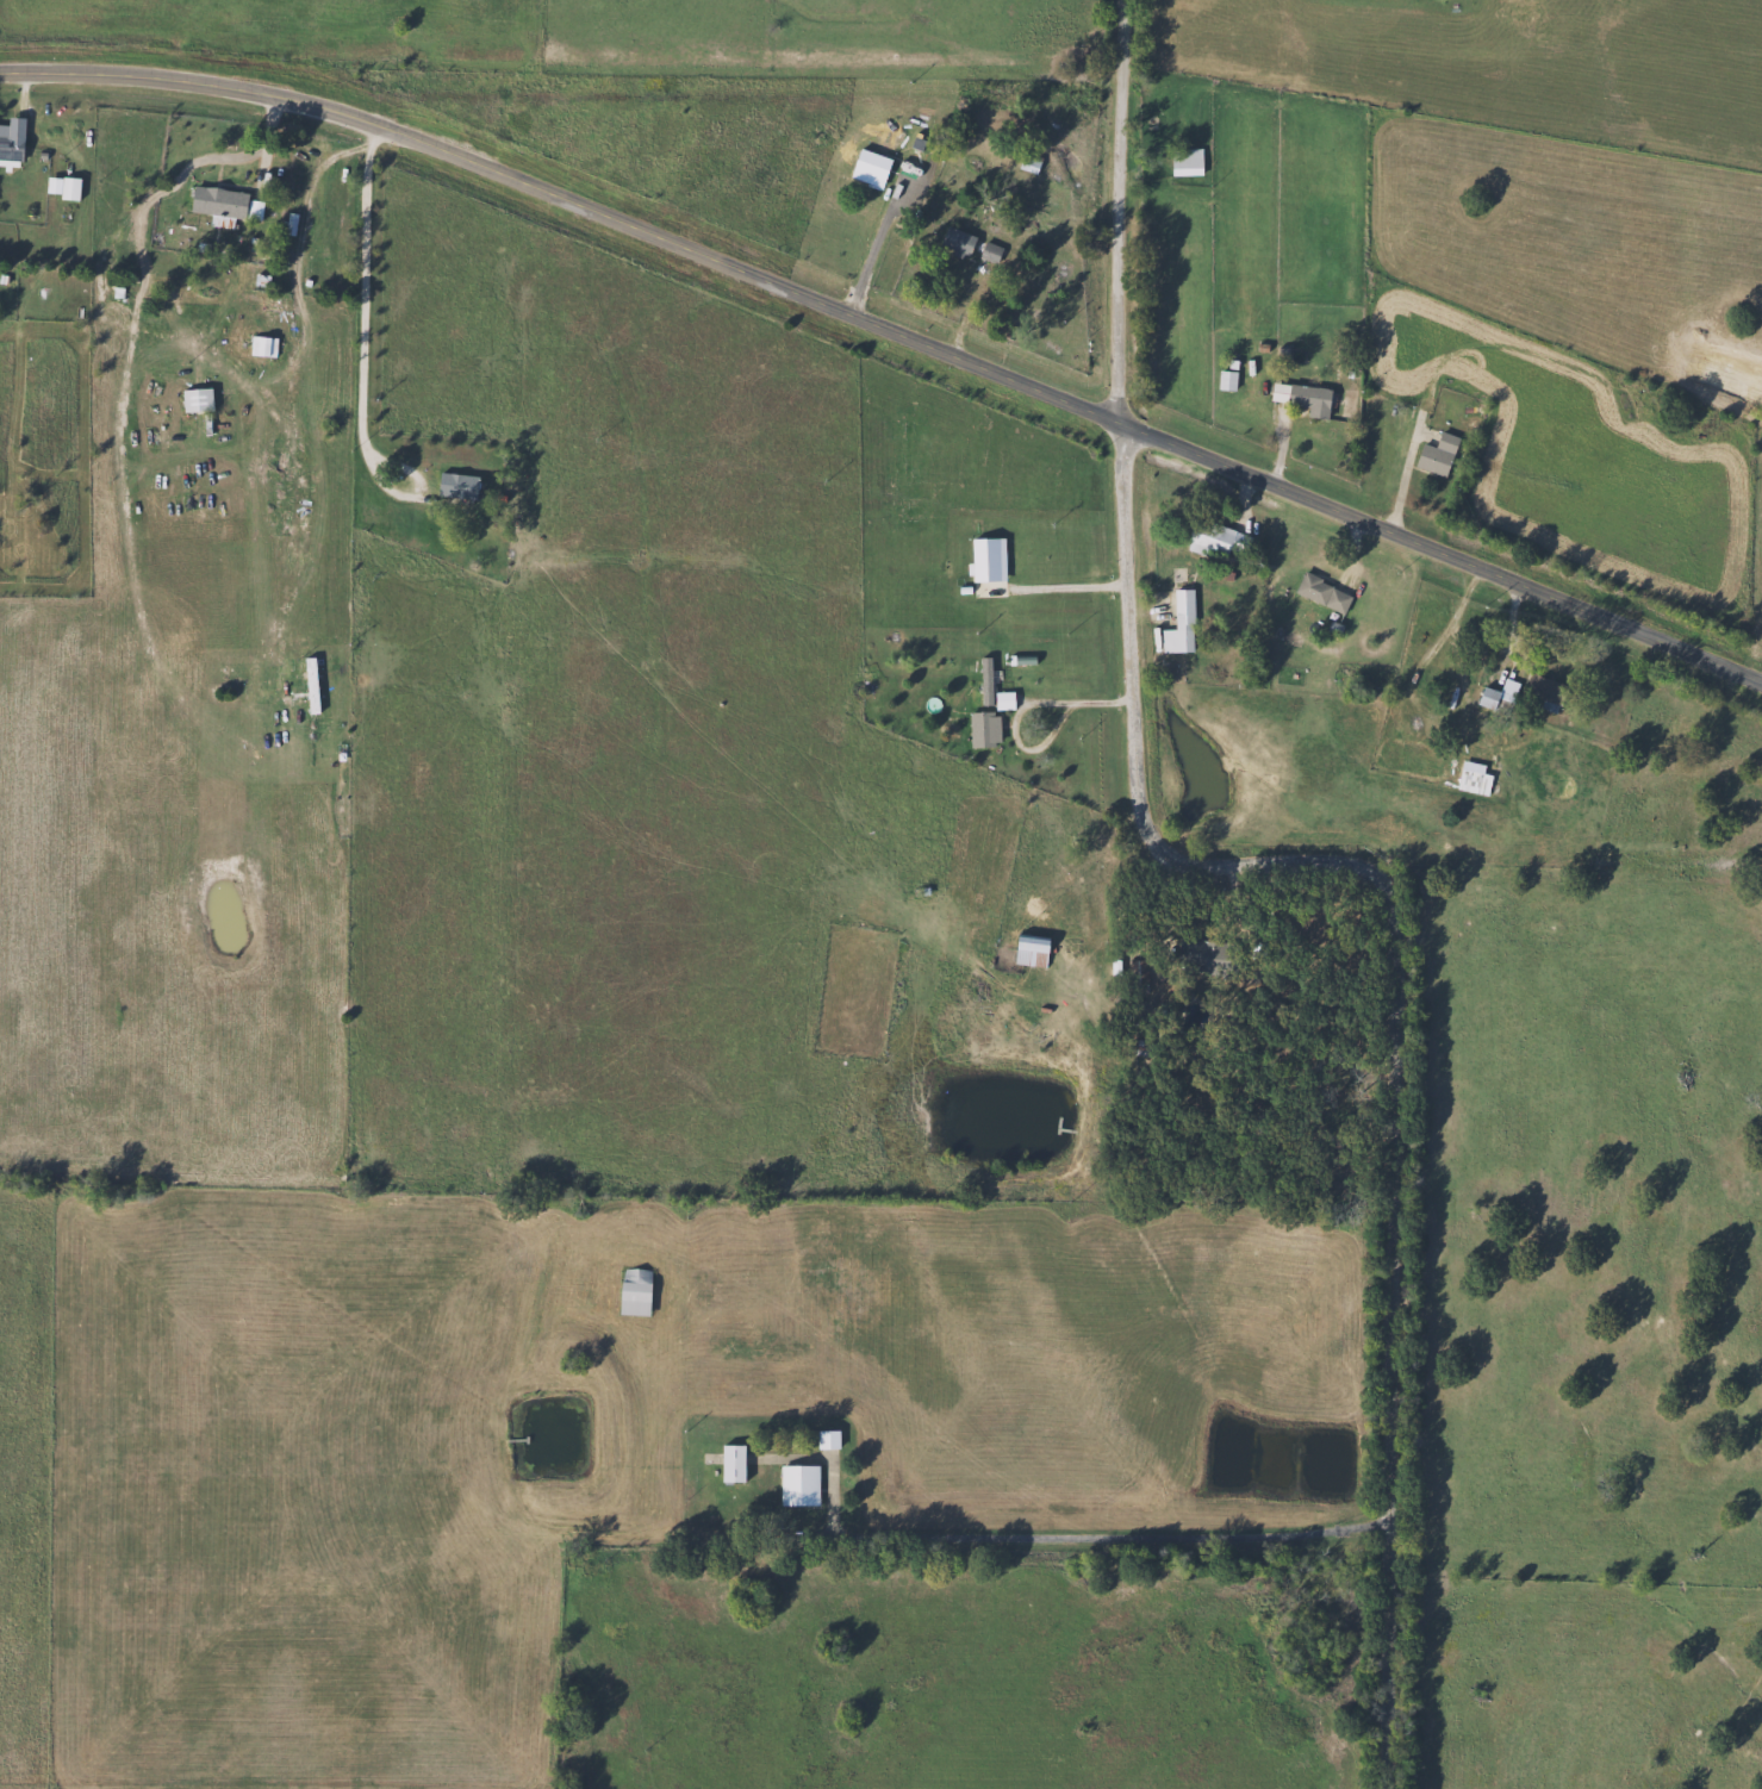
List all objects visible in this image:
building: (10, 144)
building: (1027, 161)
building: (1185, 162)
building: (66, 187)
building: (223, 201)
road: (1117, 212)
road: (884, 243)
building: (967, 245)
road: (173, 322)
road: (890, 328)
road: (372, 353)
building: (194, 398)
building: (1301, 398)
building: (1434, 454)
building: (455, 485)
building: (1209, 535)
road: (1069, 588)
building: (1321, 593)
building: (1178, 621)
building: (1543, 690)
building: (977, 696)
building: (1496, 697)
road: (1020, 711)
building: (983, 728)
building: (1474, 777)
building: (1028, 950)
building: (1187, 959)
building: (1137, 975)
road: (1395, 1003)
building: (633, 1290)
building: (826, 1439)
building: (730, 1464)
building: (797, 1485)
road: (1072, 1544)

